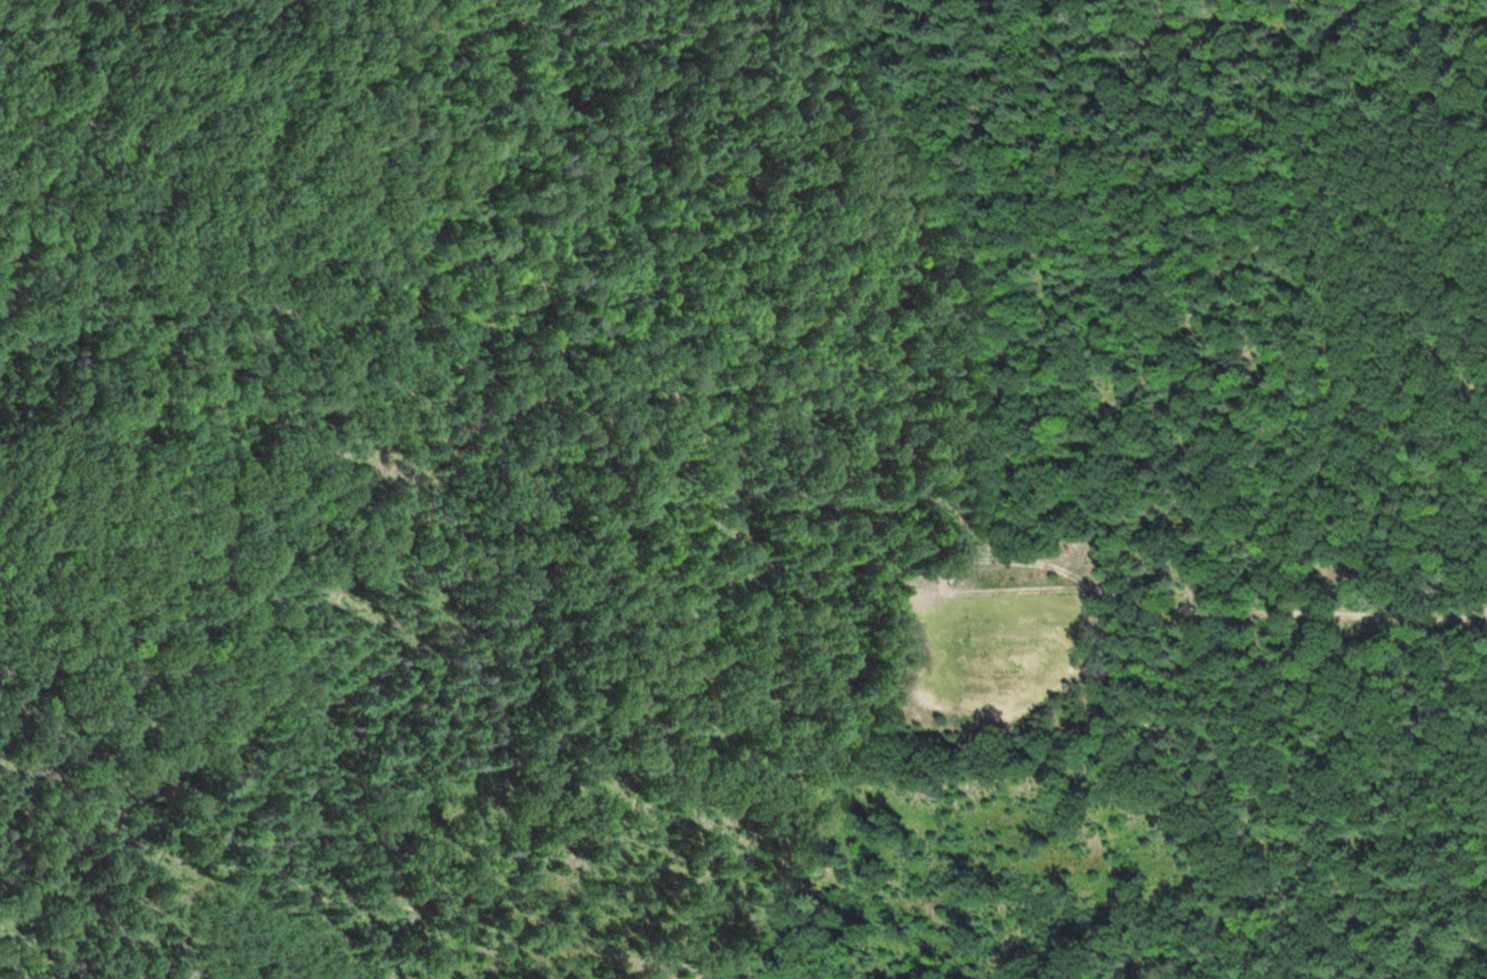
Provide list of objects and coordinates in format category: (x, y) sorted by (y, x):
road: (239, 769)
road: (119, 809)

